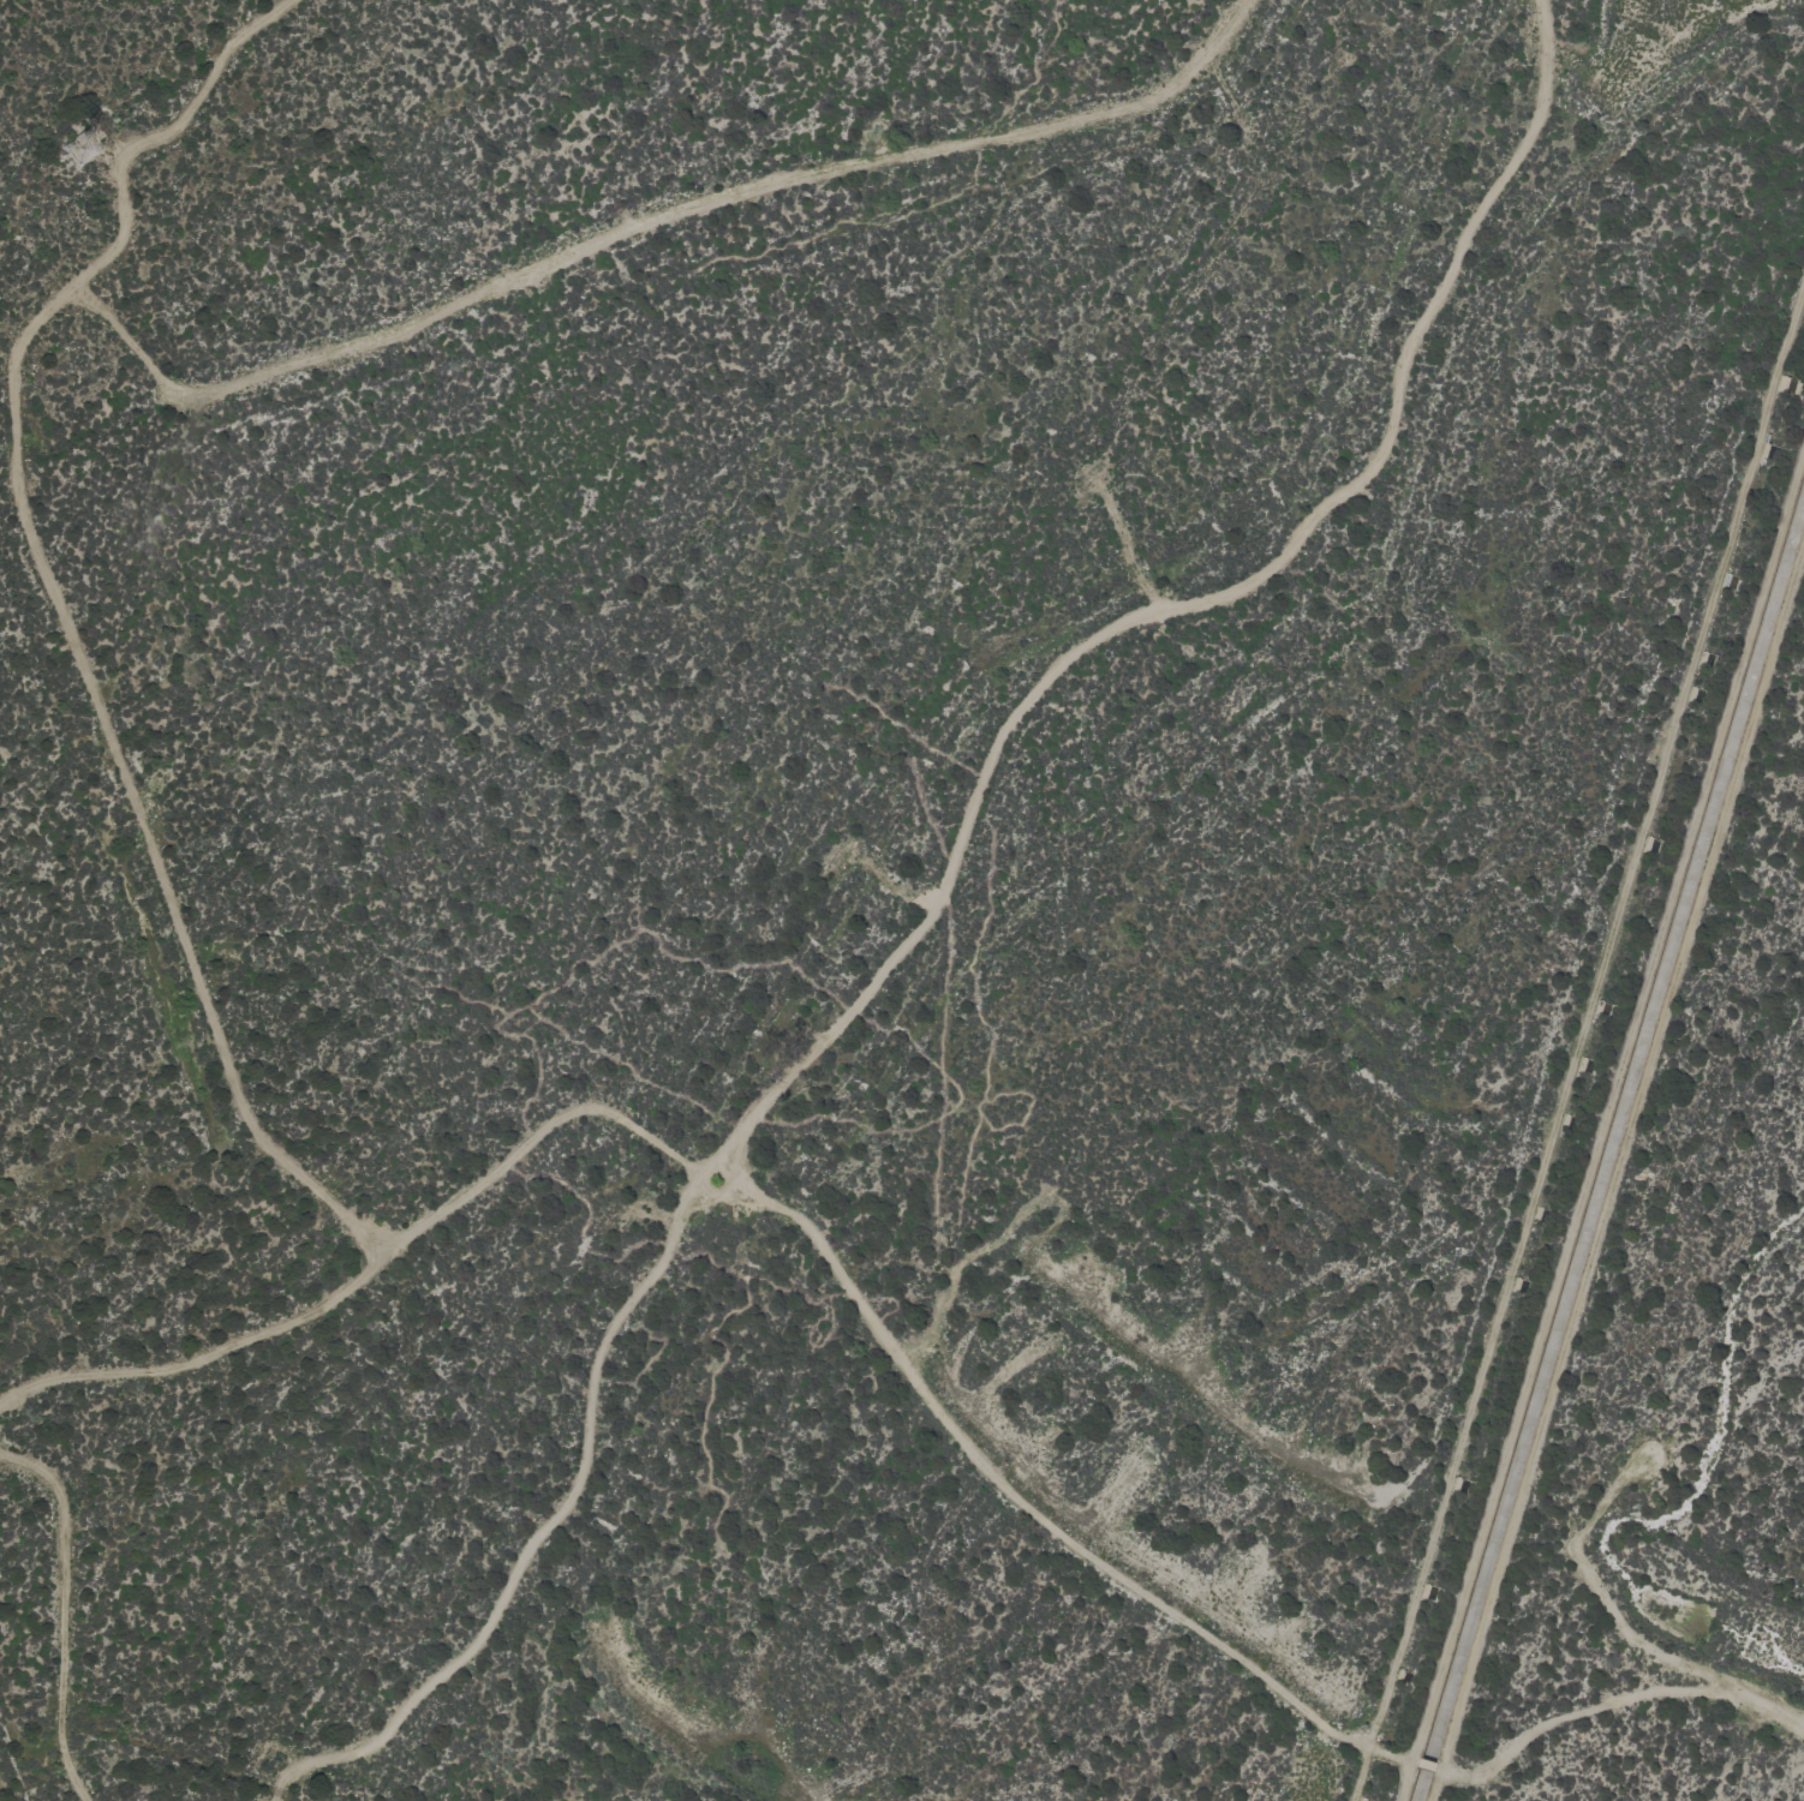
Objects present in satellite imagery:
power tower: (79, 154)

